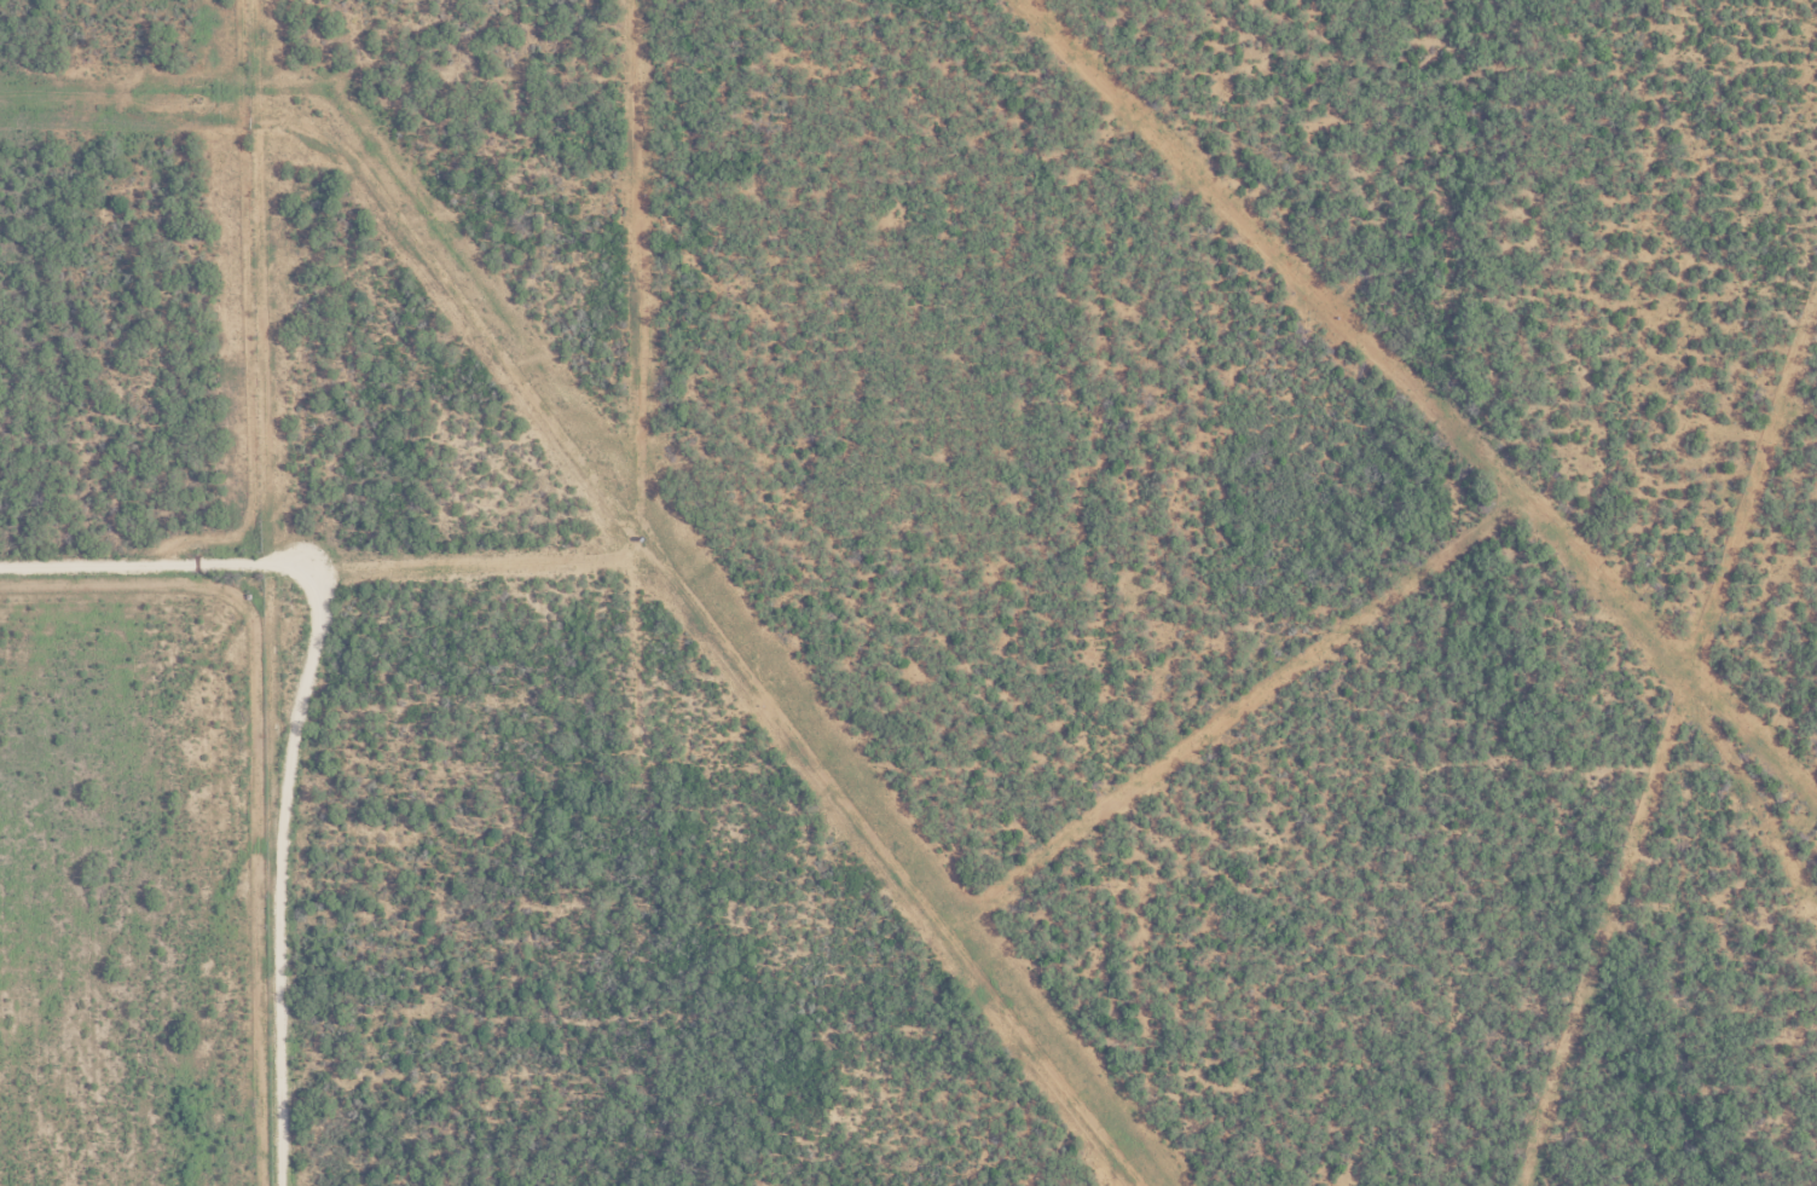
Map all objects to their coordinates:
road: (300, 722)

